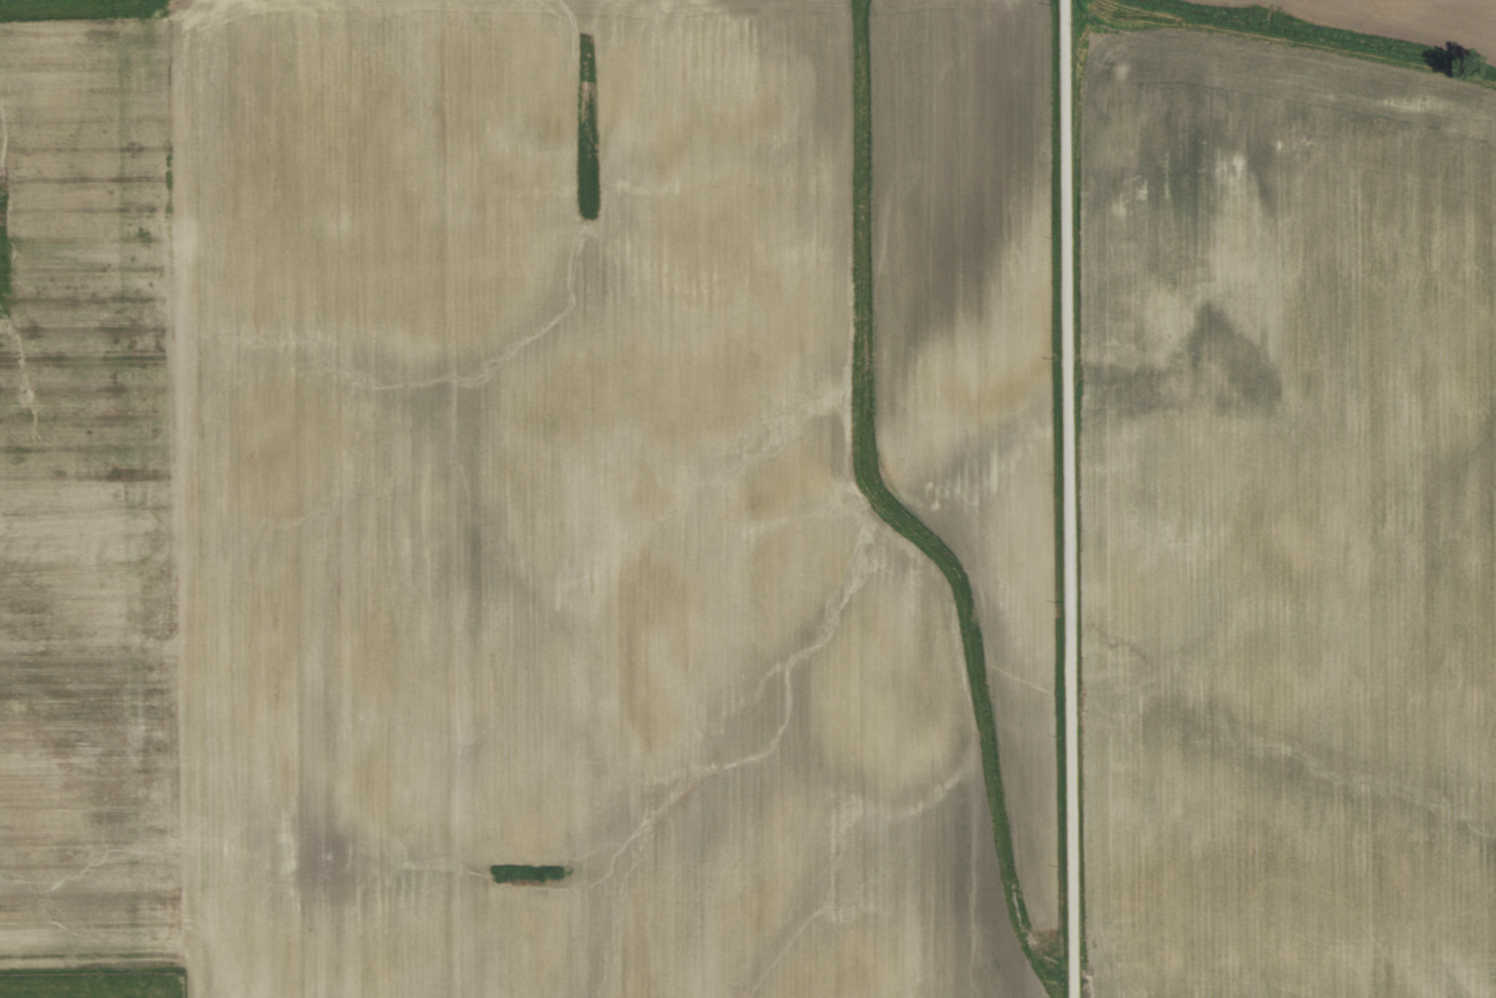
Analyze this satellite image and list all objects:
building: (1156, 348)
road: (1073, 499)

